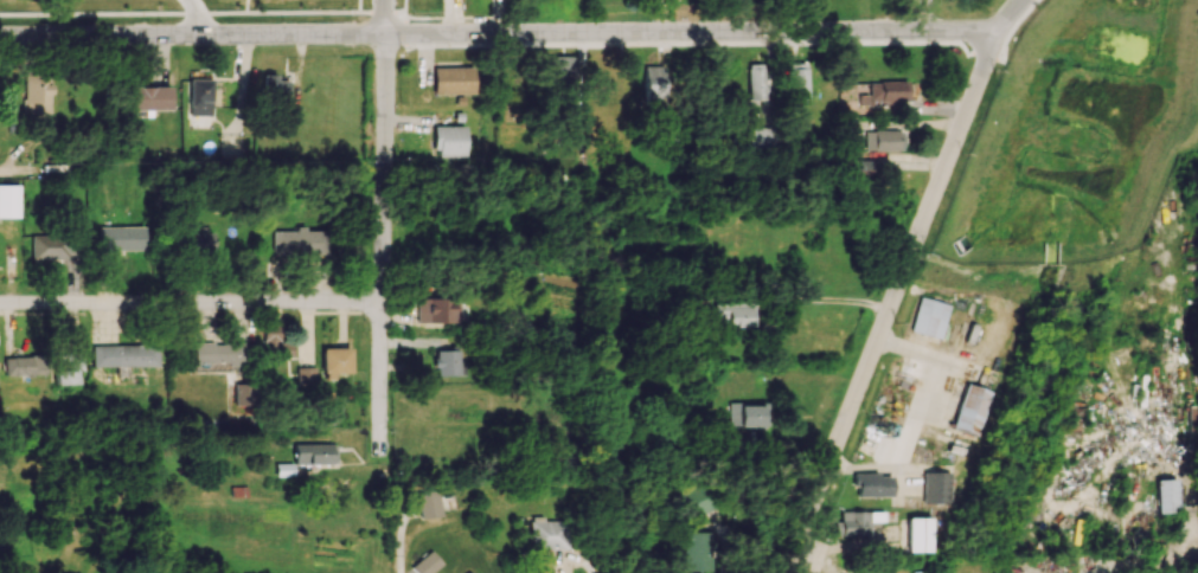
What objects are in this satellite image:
road: (921, 14)
road: (194, 15)
road: (1006, 15)
road: (383, 17)
road: (688, 31)
road: (191, 32)
building: (562, 69)
building: (453, 79)
building: (654, 82)
building: (756, 82)
building: (614, 83)
building: (797, 83)
building: (274, 85)
building: (873, 92)
building: (37, 94)
building: (200, 96)
building: (149, 97)
building: (850, 127)
building: (761, 136)
building: (884, 140)
building: (449, 141)
building: (231, 146)
building: (865, 167)
road: (192, 170)
building: (8, 200)
building: (121, 237)
building: (203, 240)
building: (300, 242)
building: (51, 246)
road: (384, 247)
road: (192, 303)
road: (816, 303)
road: (893, 303)
building: (437, 309)
building: (733, 313)
building: (930, 317)
building: (275, 341)
building: (217, 352)
building: (124, 354)
building: (334, 361)
building: (446, 362)
building: (21, 366)
building: (66, 366)
building: (306, 375)
building: (243, 394)
building: (972, 408)
building: (745, 414)
road: (920, 421)
building: (216, 423)
building: (315, 453)
building: (873, 484)
building: (936, 487)
building: (1166, 495)
building: (694, 500)
building: (430, 503)
building: (856, 522)
building: (549, 534)
building: (920, 534)
road: (399, 539)
building: (693, 551)
road: (581, 562)
building: (427, 564)
road: (723, 565)
building: (468, 572)

